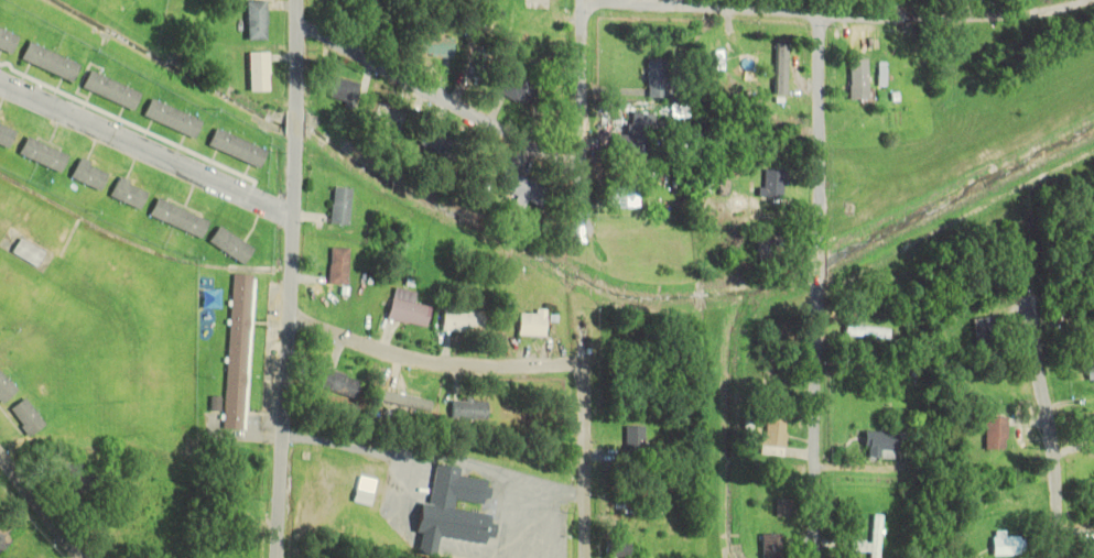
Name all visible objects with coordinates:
building: (99, 0)
road: (700, 7)
road: (859, 14)
building: (256, 21)
building: (6, 42)
building: (432, 46)
building: (716, 57)
building: (46, 62)
building: (256, 73)
building: (657, 79)
building: (855, 87)
building: (108, 90)
building: (517, 90)
building: (343, 91)
road: (438, 97)
building: (756, 101)
building: (388, 117)
road: (582, 117)
building: (170, 118)
building: (6, 135)
building: (633, 136)
building: (430, 145)
building: (234, 147)
road: (145, 150)
building: (687, 152)
building: (41, 154)
building: (87, 175)
building: (770, 184)
building: (520, 189)
building: (127, 194)
building: (624, 197)
building: (338, 206)
building: (176, 218)
building: (227, 245)
building: (767, 248)
building: (29, 252)
building: (337, 266)
road: (291, 278)
road: (815, 286)
building: (407, 313)
building: (462, 321)
building: (530, 324)
building: (1093, 328)
building: (983, 331)
building: (865, 332)
building: (237, 352)
road: (431, 358)
building: (1091, 375)
building: (340, 384)
building: (4, 389)
building: (404, 400)
building: (469, 411)
building: (23, 417)
building: (1091, 425)
road: (1048, 431)
building: (772, 433)
building: (994, 433)
building: (633, 440)
building: (878, 445)
road: (434, 459)
road: (580, 460)
building: (78, 481)
road: (403, 493)
parking lot: (398, 502)
road: (40, 507)
building: (783, 507)
building: (447, 512)
building: (234, 516)
road: (506, 518)
parking lot: (523, 523)
road: (550, 524)
building: (874, 536)
building: (3, 538)
building: (769, 545)
building: (1006, 545)
building: (856, 546)
building: (615, 548)

